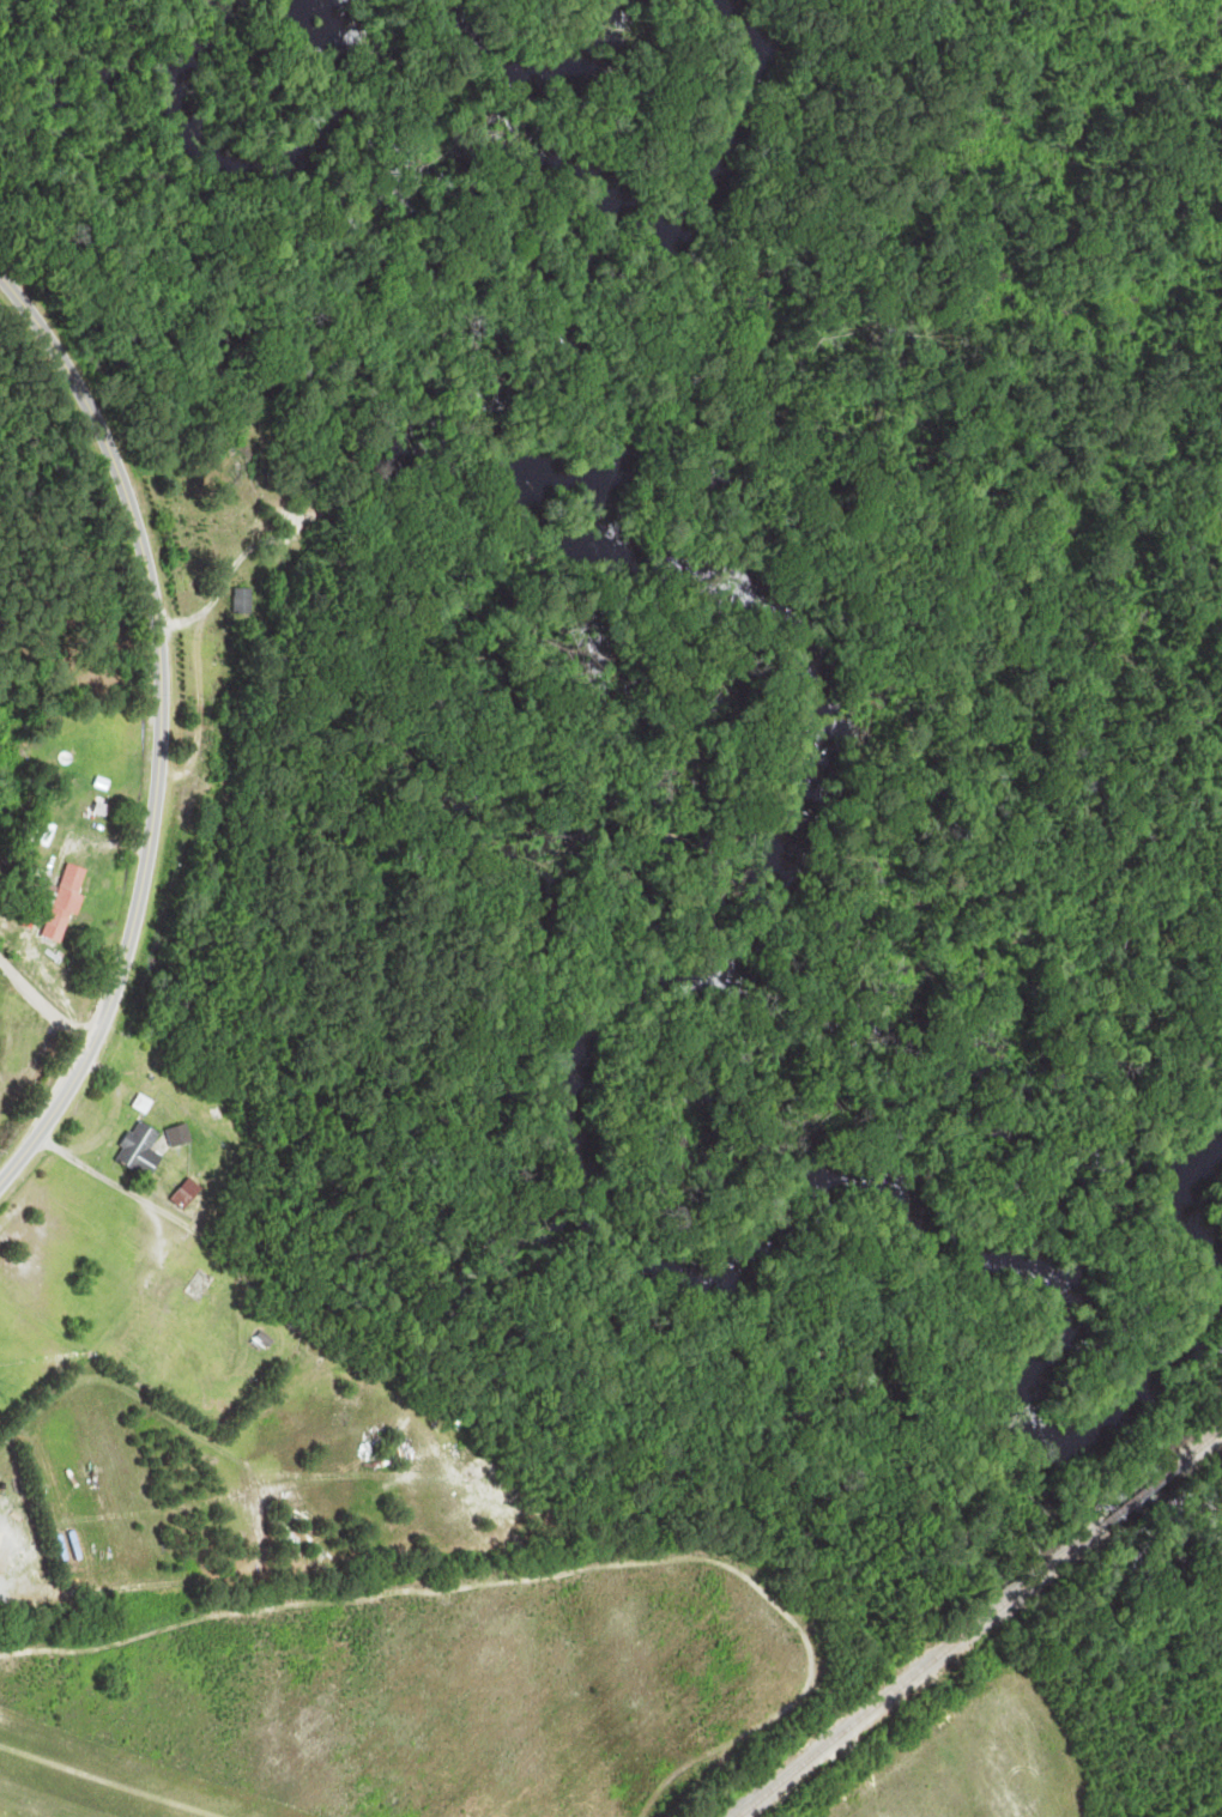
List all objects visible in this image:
river: (530, 63)
river: (252, 165)
building: (247, 602)
road: (162, 727)
river: (791, 852)
building: (69, 906)
road: (44, 1006)
building: (184, 1134)
building: (146, 1150)
building: (190, 1194)
river: (1188, 1204)
building: (223, 1294)
railway: (984, 1625)

